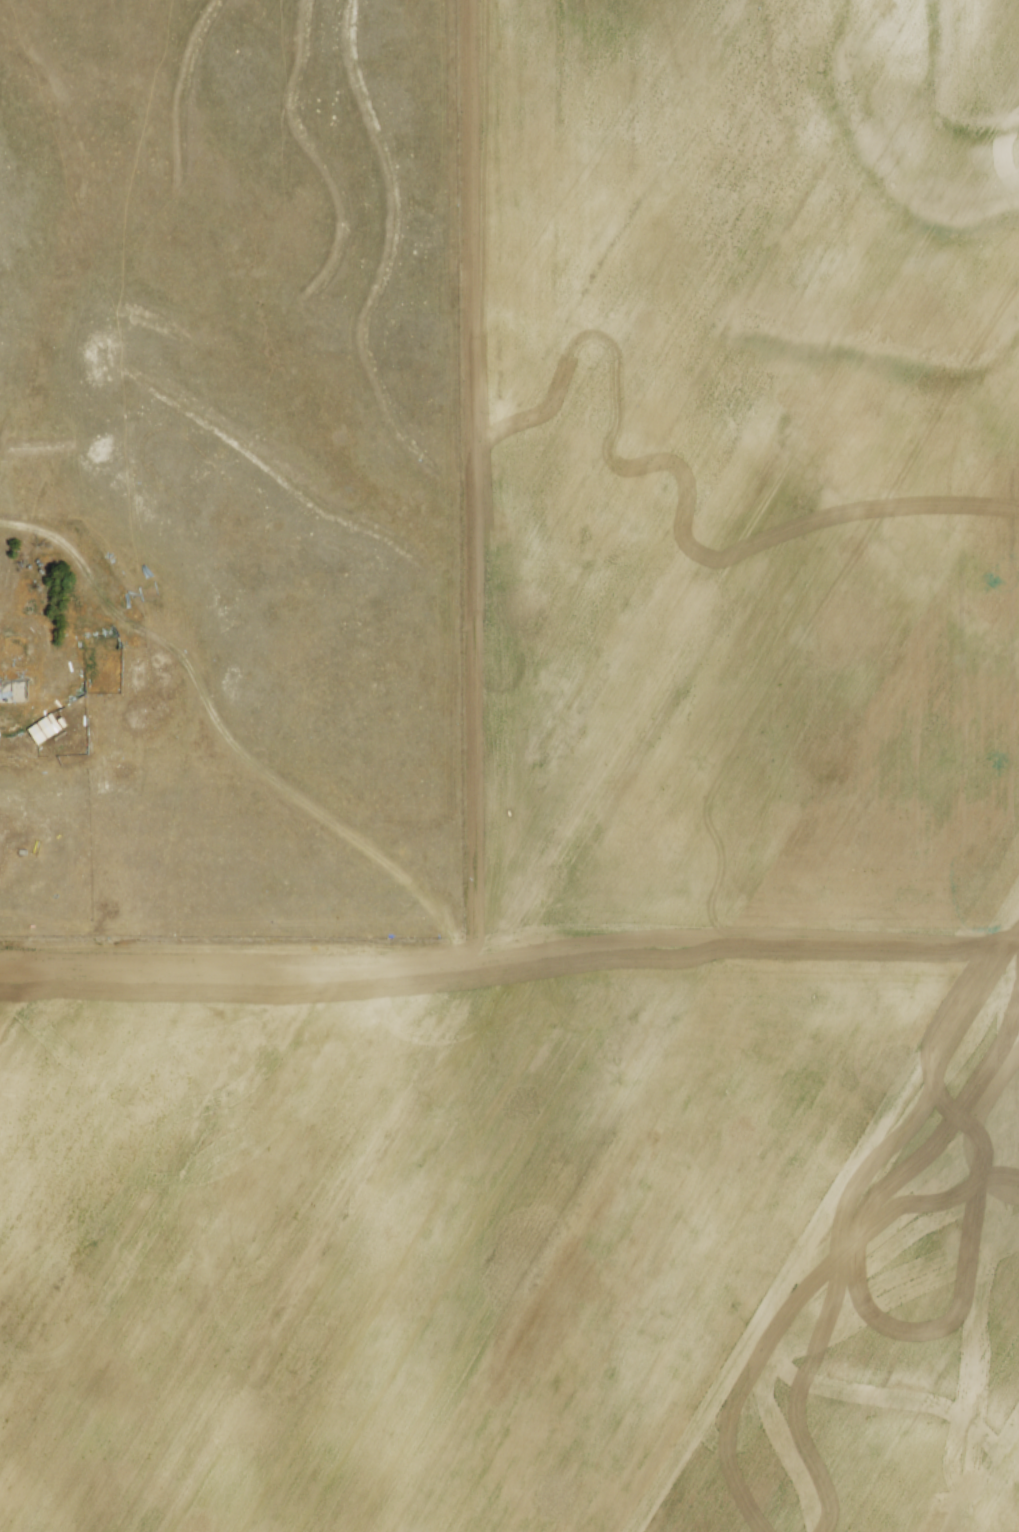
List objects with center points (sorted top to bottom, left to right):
building: (44, 720)

